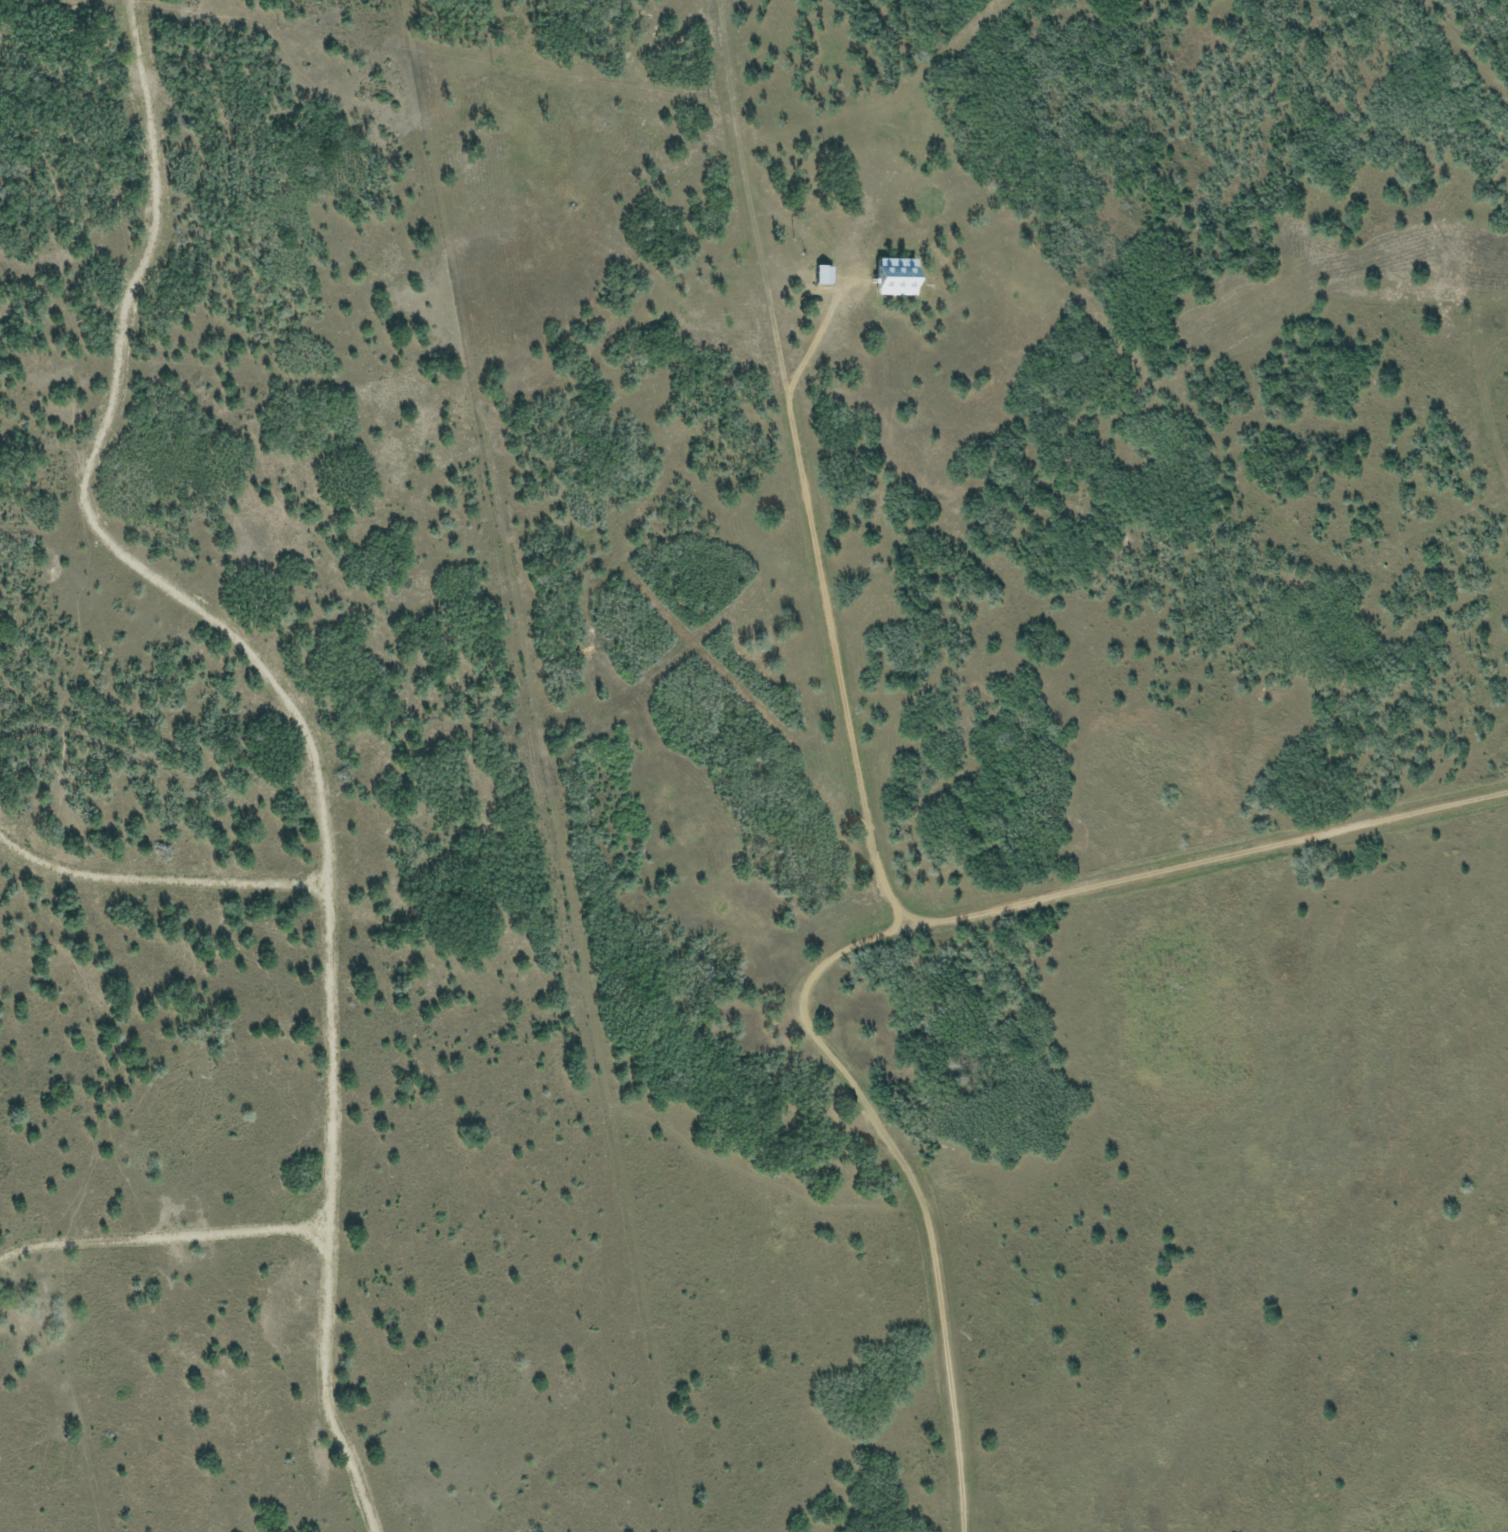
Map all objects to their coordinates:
building: (825, 273)
building: (898, 275)

